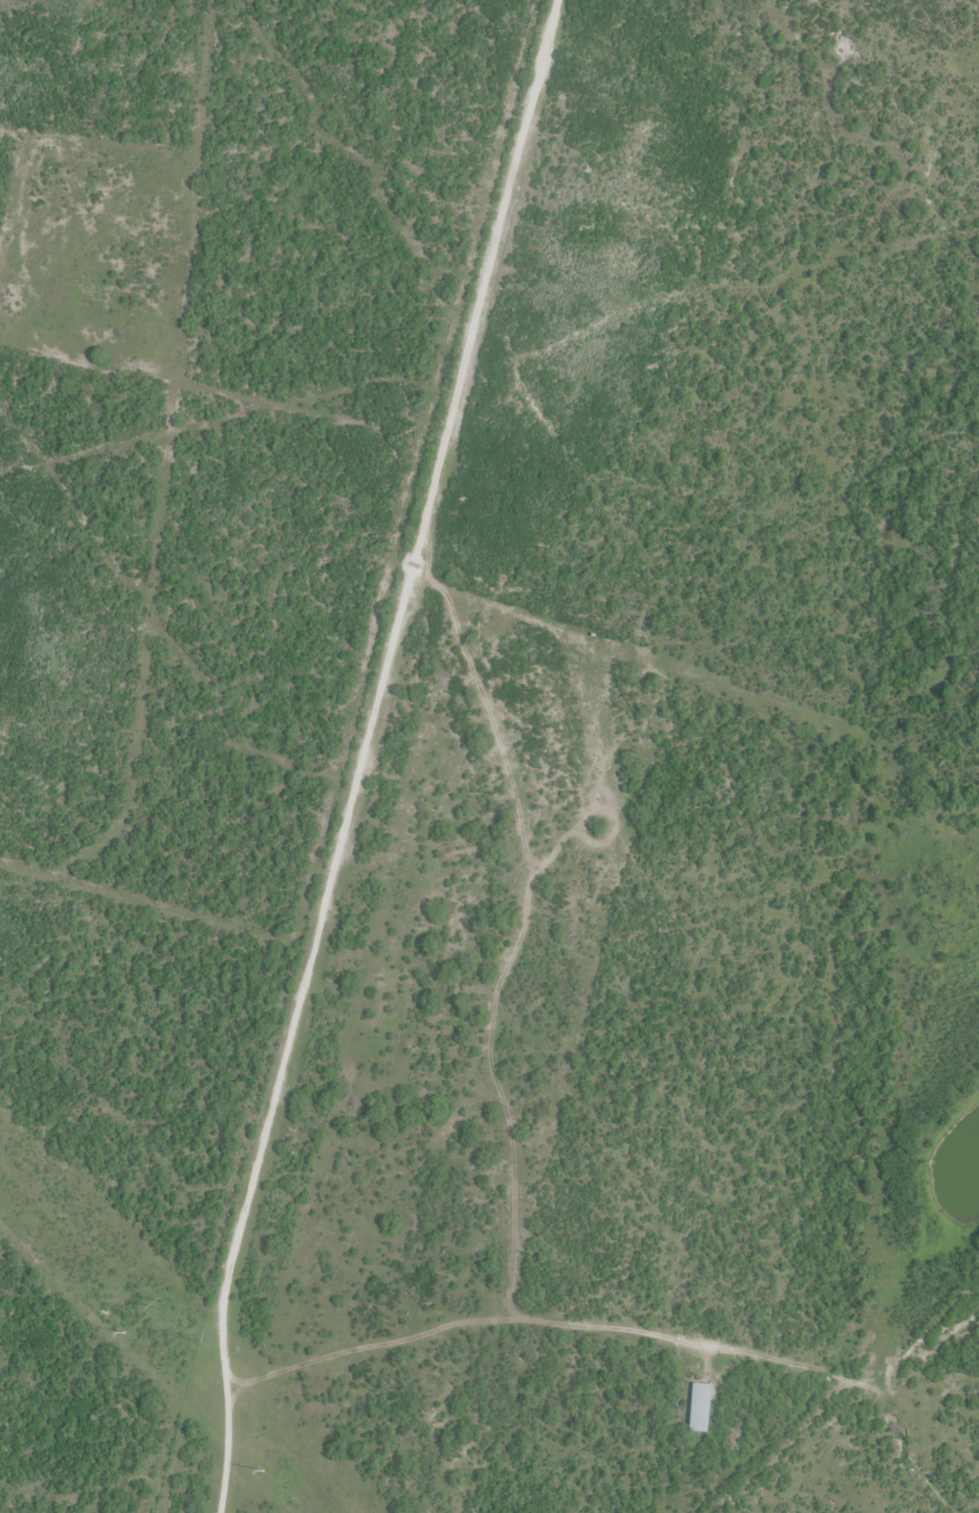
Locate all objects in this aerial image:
power tower: (158, 1302)
power tower: (124, 1334)
building: (703, 1404)
power tower: (262, 1471)

